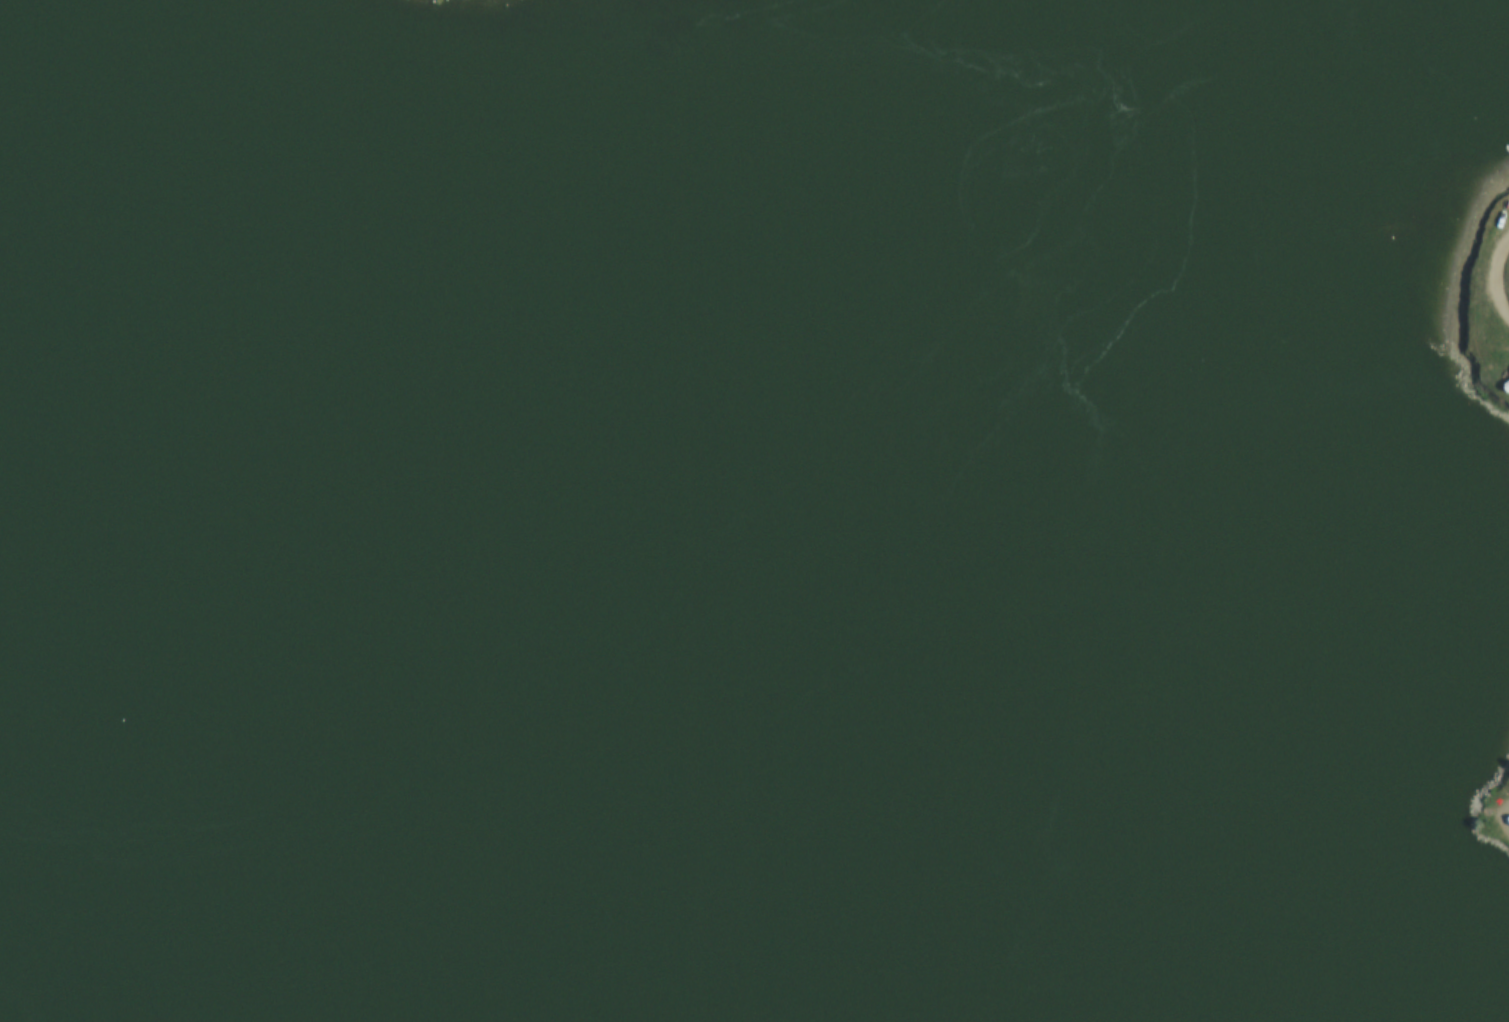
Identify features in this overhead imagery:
road: (1500, 282)
road: (1505, 830)

